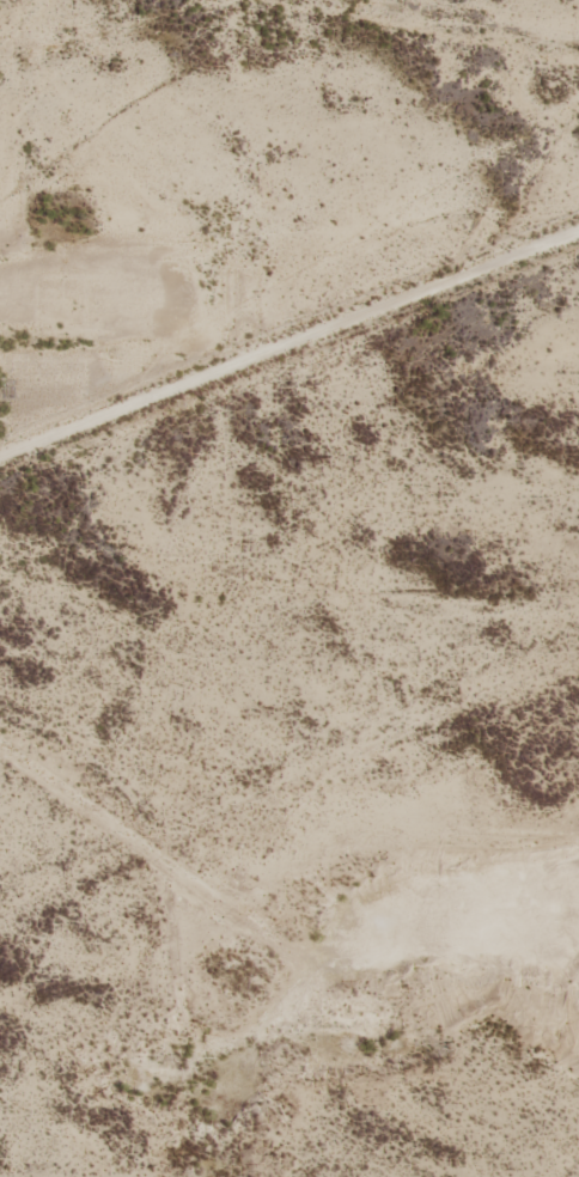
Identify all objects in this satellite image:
road: (289, 283)

